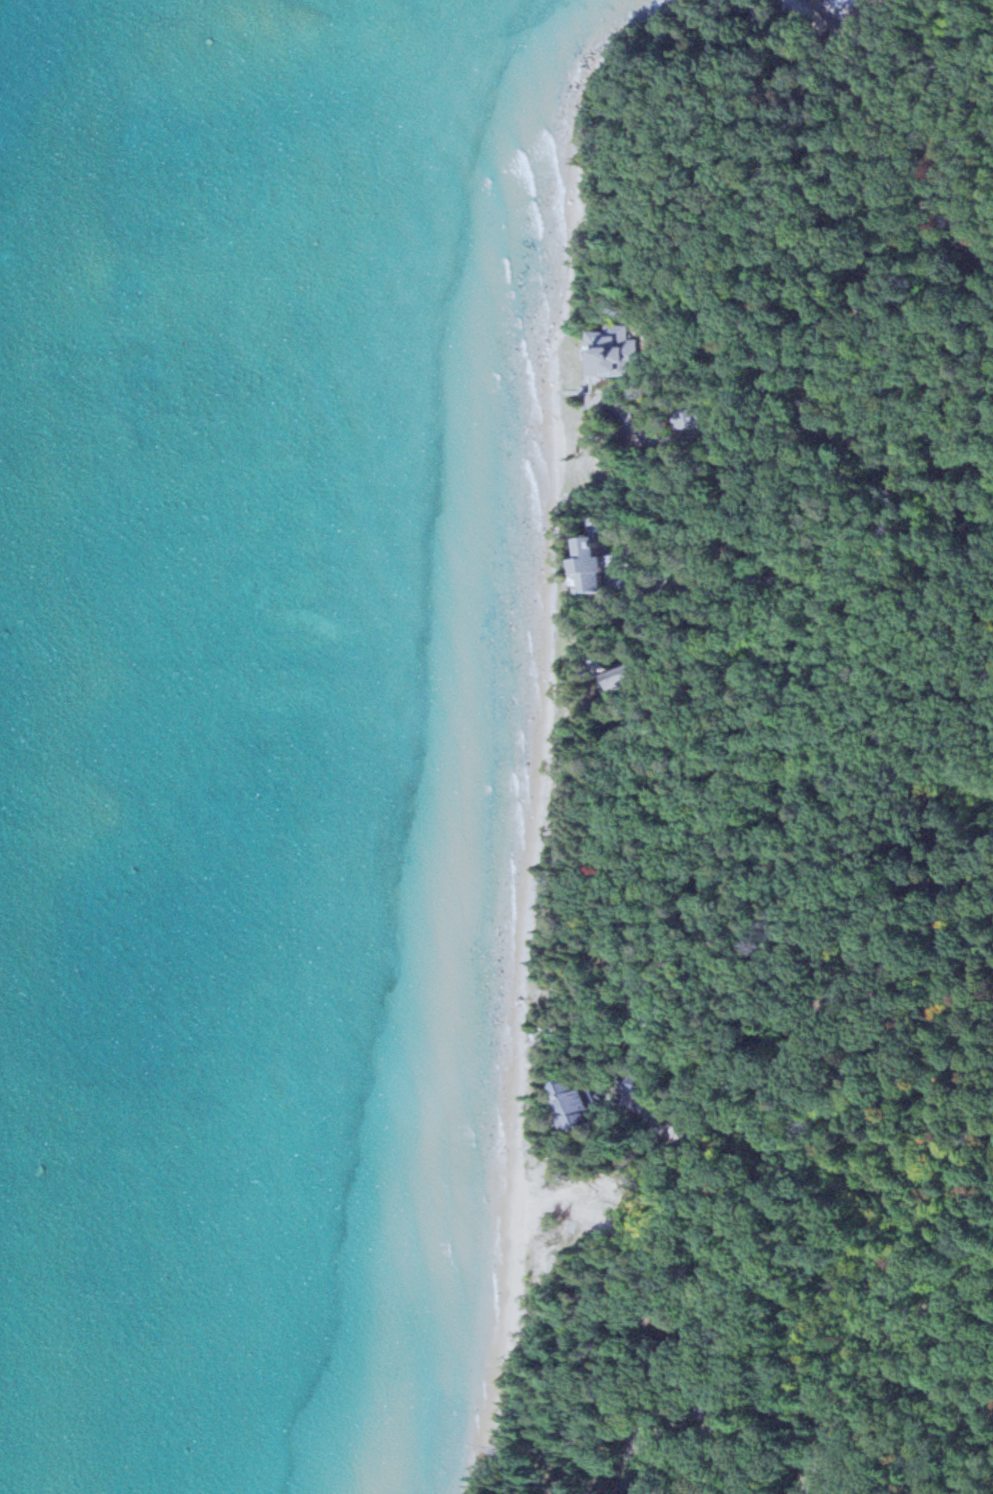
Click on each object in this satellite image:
building: (613, 354)
building: (594, 568)
building: (626, 679)
building: (649, 1010)
building: (636, 1085)
building: (581, 1104)
road: (844, 1164)
road: (891, 1366)
road: (954, 1366)
road: (791, 1412)

